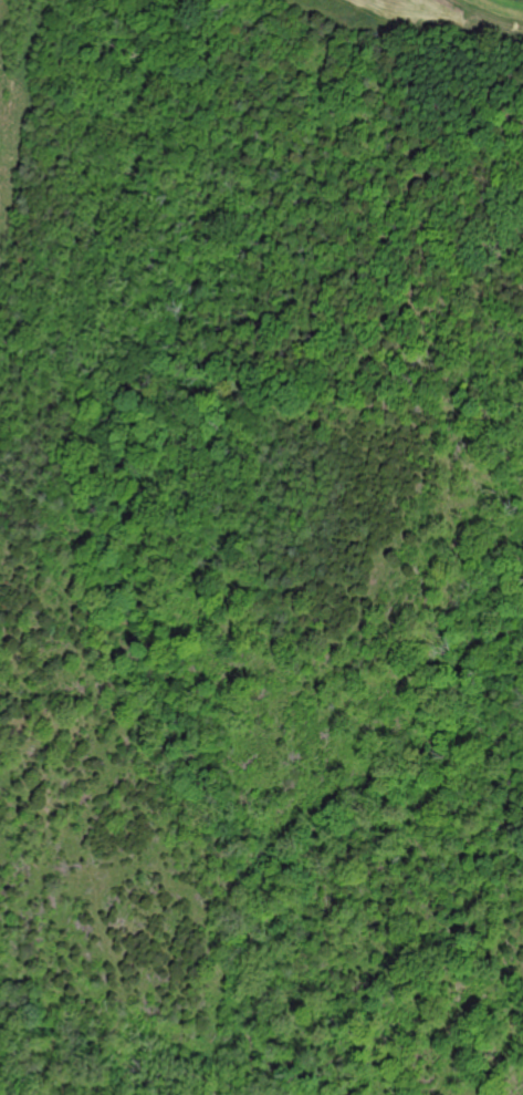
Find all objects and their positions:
road: (522, 0)

